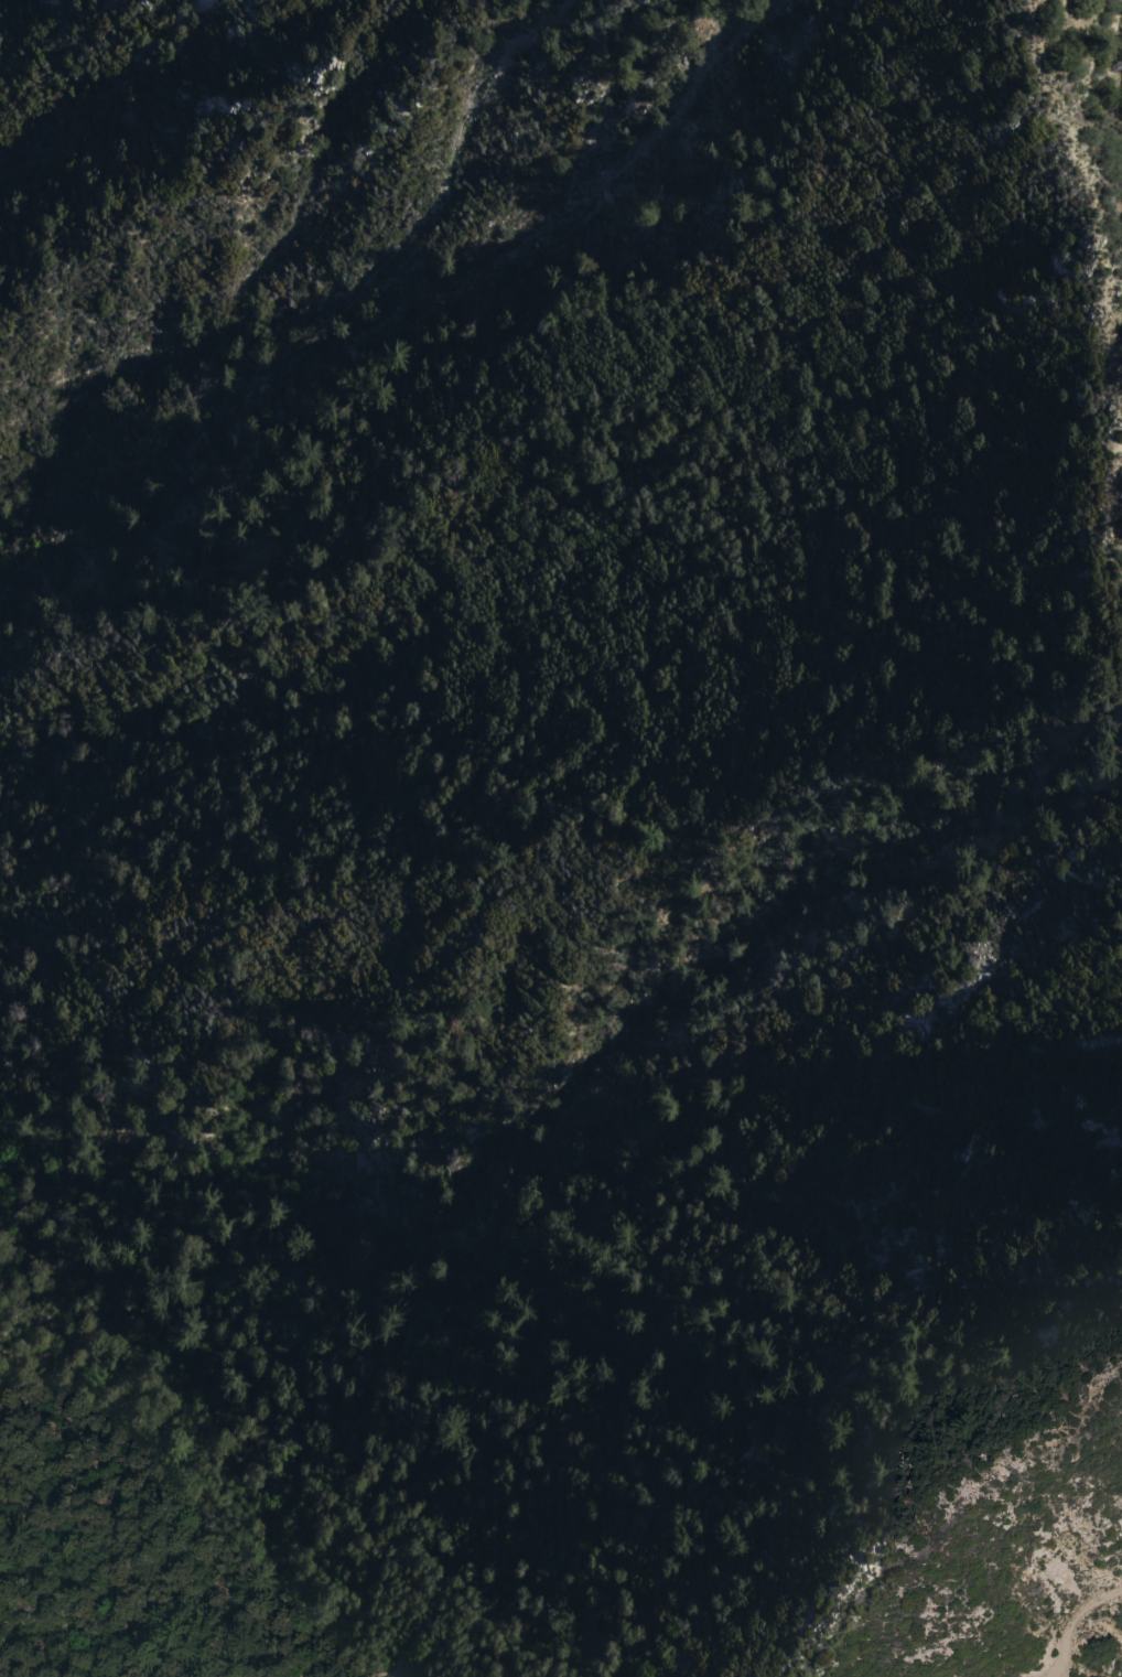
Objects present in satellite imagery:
road: (1108, 284)
road: (934, 1512)
road: (1072, 1622)
road: (392, 1675)

